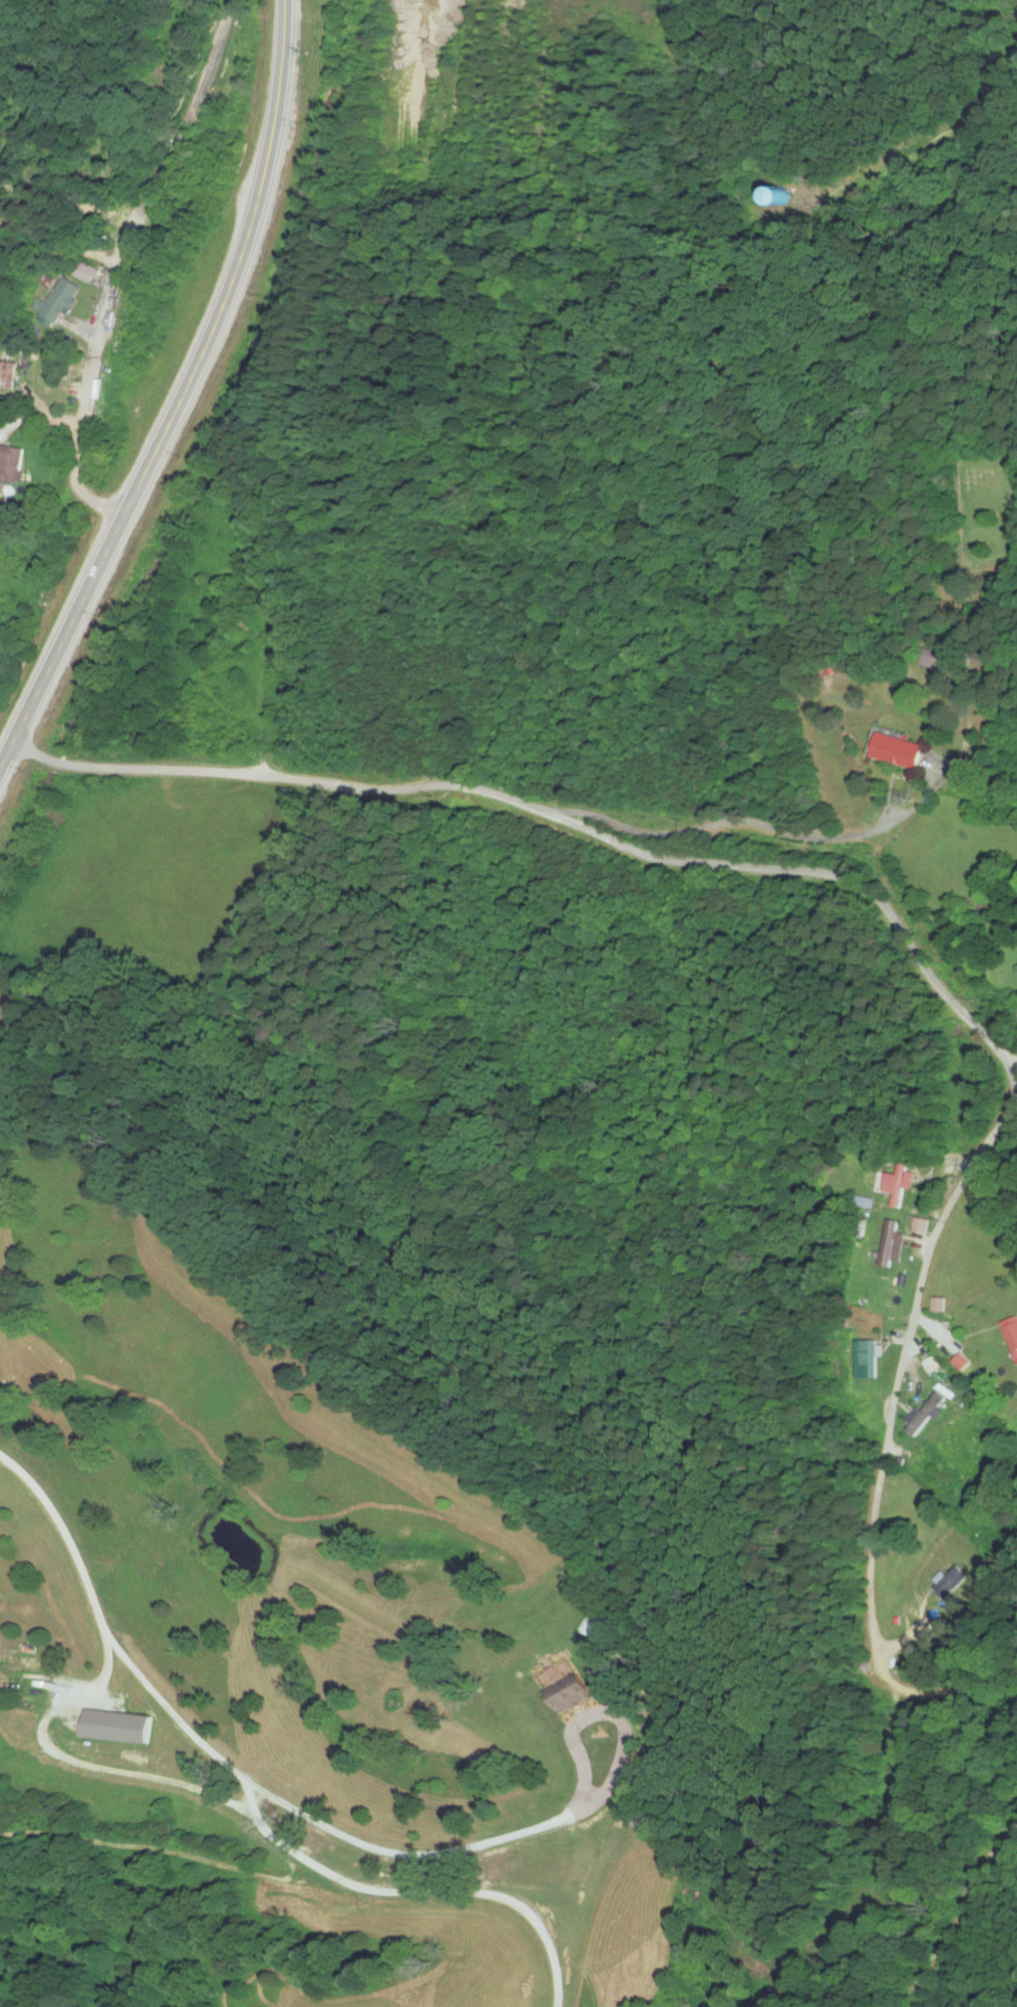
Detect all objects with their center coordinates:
building: (784, 197)
building: (87, 273)
building: (58, 303)
building: (7, 376)
road: (182, 397)
road: (87, 417)
building: (11, 465)
building: (941, 662)
building: (898, 751)
road: (729, 823)
road: (905, 938)
building: (901, 1185)
building: (925, 1226)
building: (893, 1243)
building: (1012, 1335)
building: (869, 1360)
building: (926, 1415)
building: (948, 1582)
building: (29, 1660)
building: (120, 1727)

